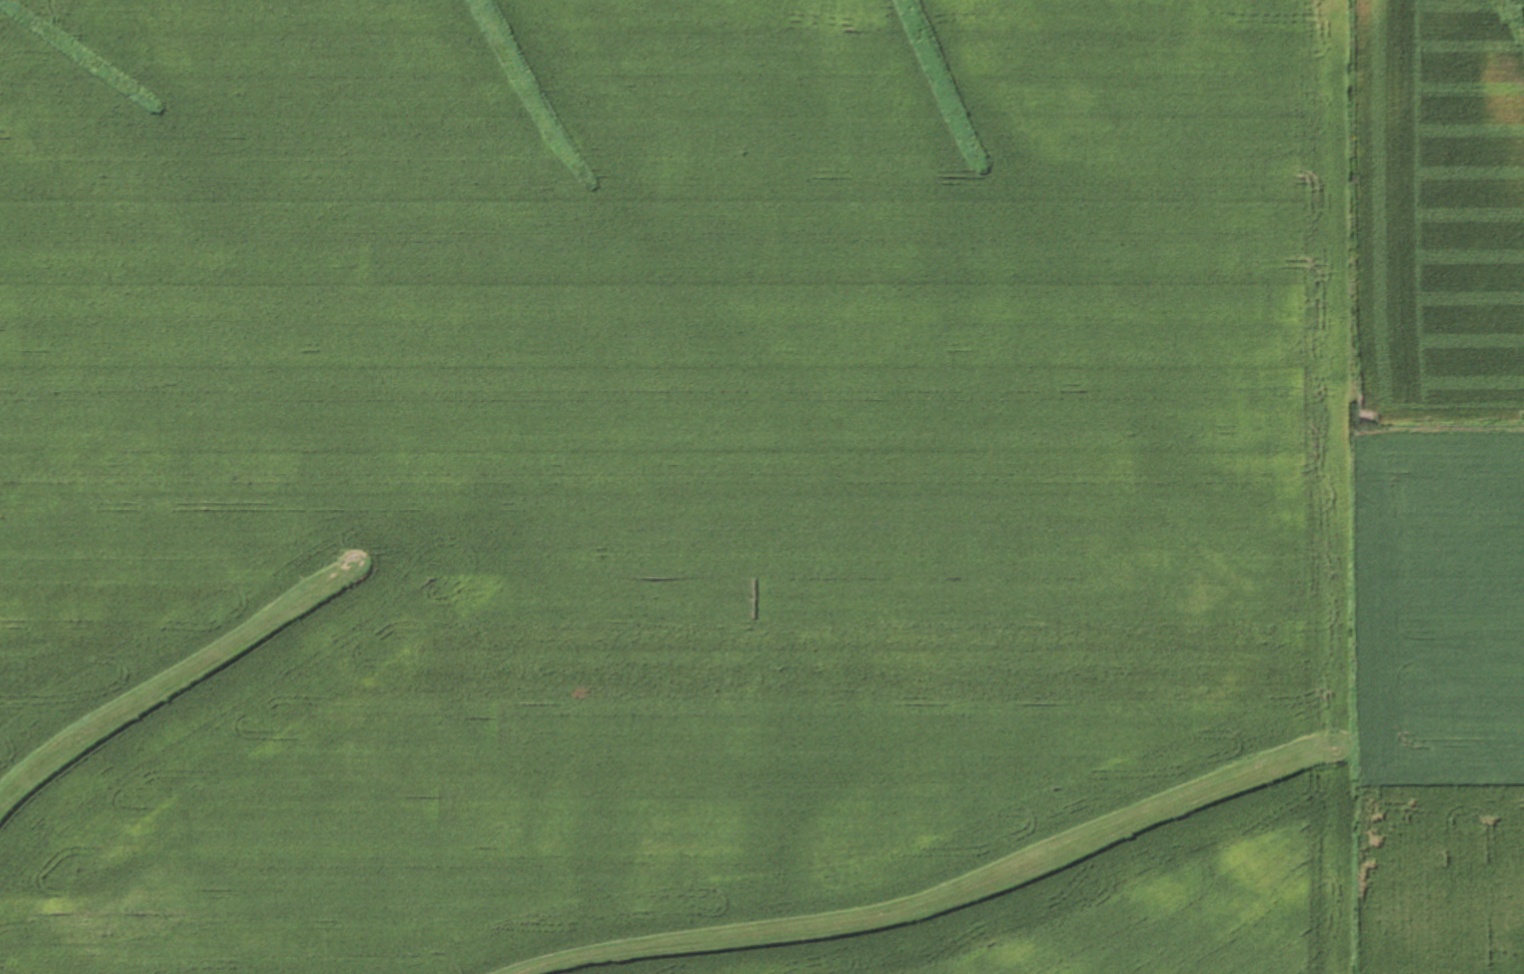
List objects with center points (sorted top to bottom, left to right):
building: (5, 500)

